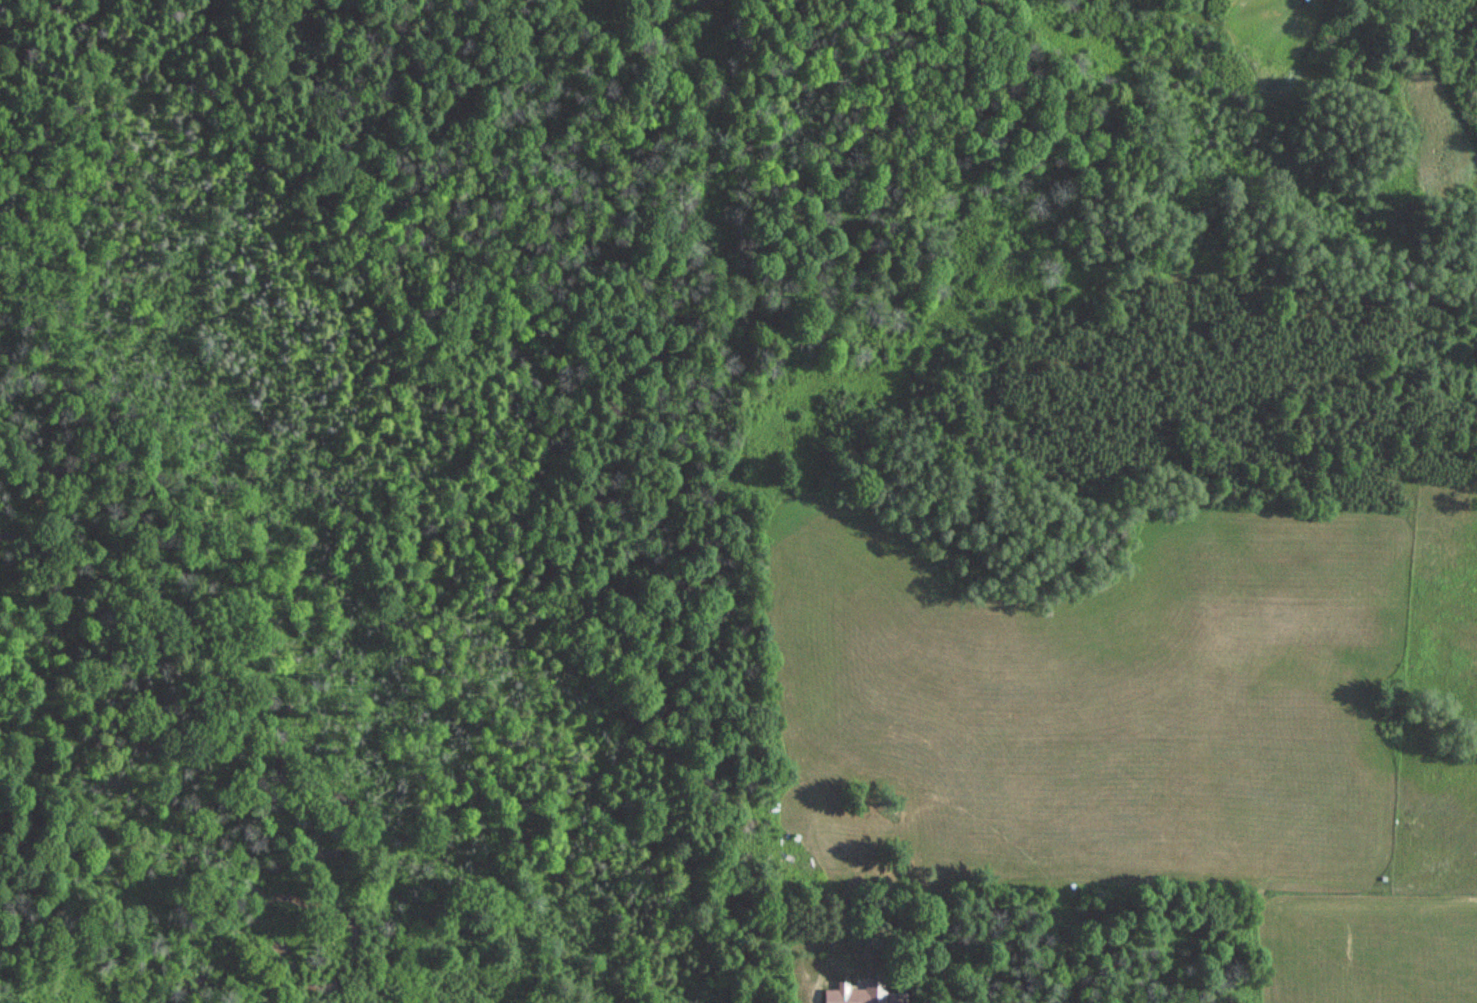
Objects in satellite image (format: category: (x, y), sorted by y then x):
building: (864, 994)

